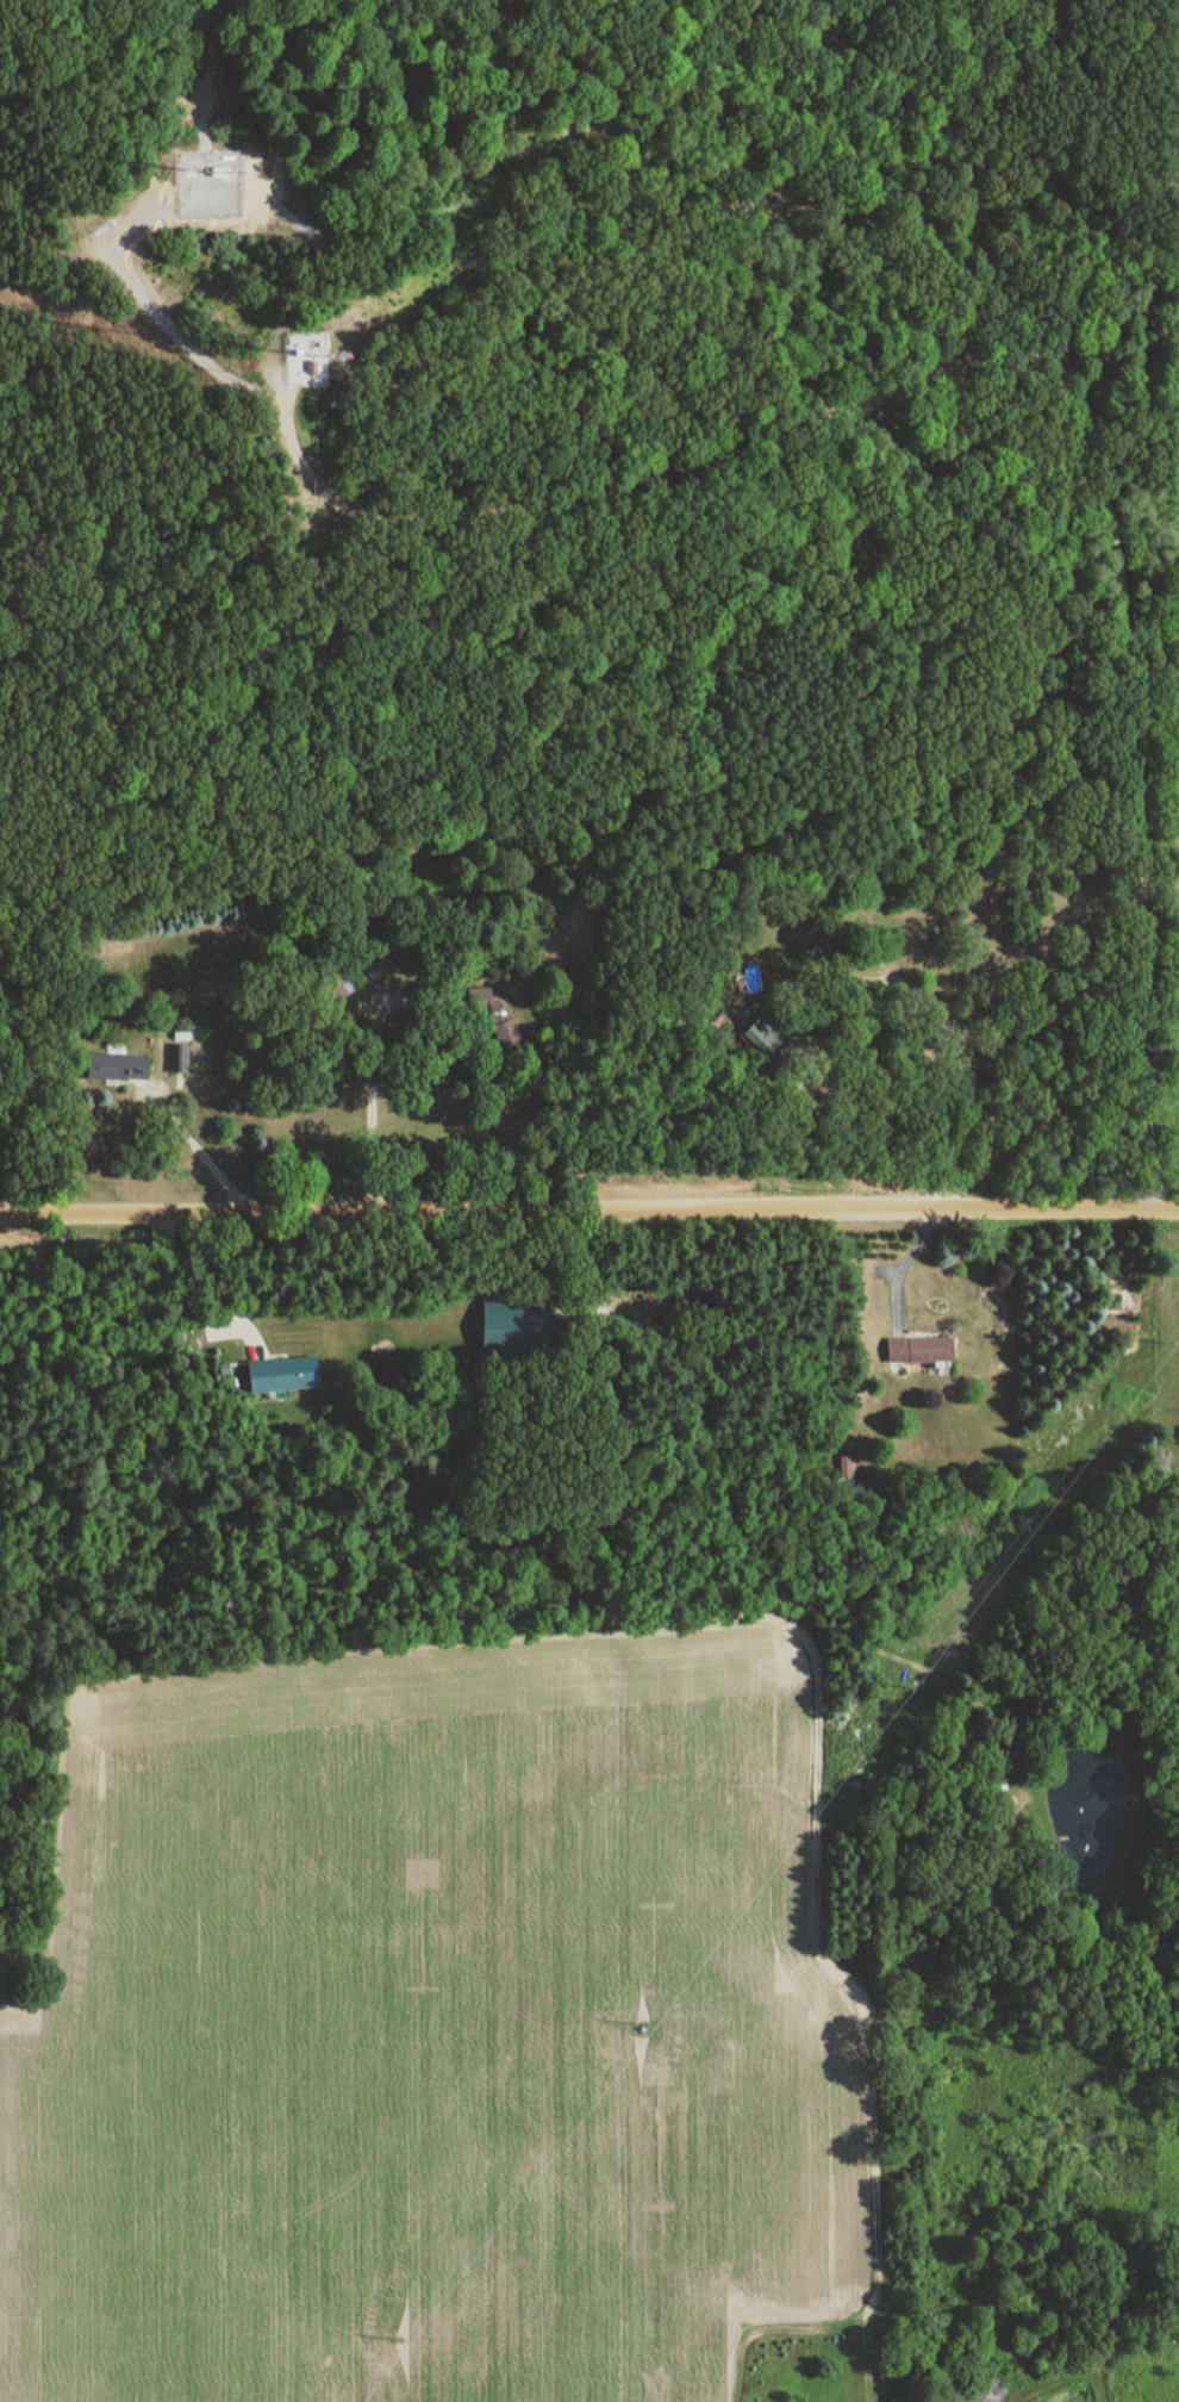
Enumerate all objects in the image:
building: (220, 173)
road: (905, 380)
building: (339, 983)
building: (497, 1026)
building: (760, 1039)
building: (179, 1060)
building: (117, 1069)
road: (372, 1102)
road: (195, 1153)
road: (589, 1213)
road: (201, 1277)
building: (513, 1313)
building: (917, 1351)
power tower: (1156, 1351)
building: (280, 1375)
building: (848, 1470)
building: (1172, 1597)
power tower: (907, 1679)
power tower: (638, 2028)
power tower: (392, 2351)

